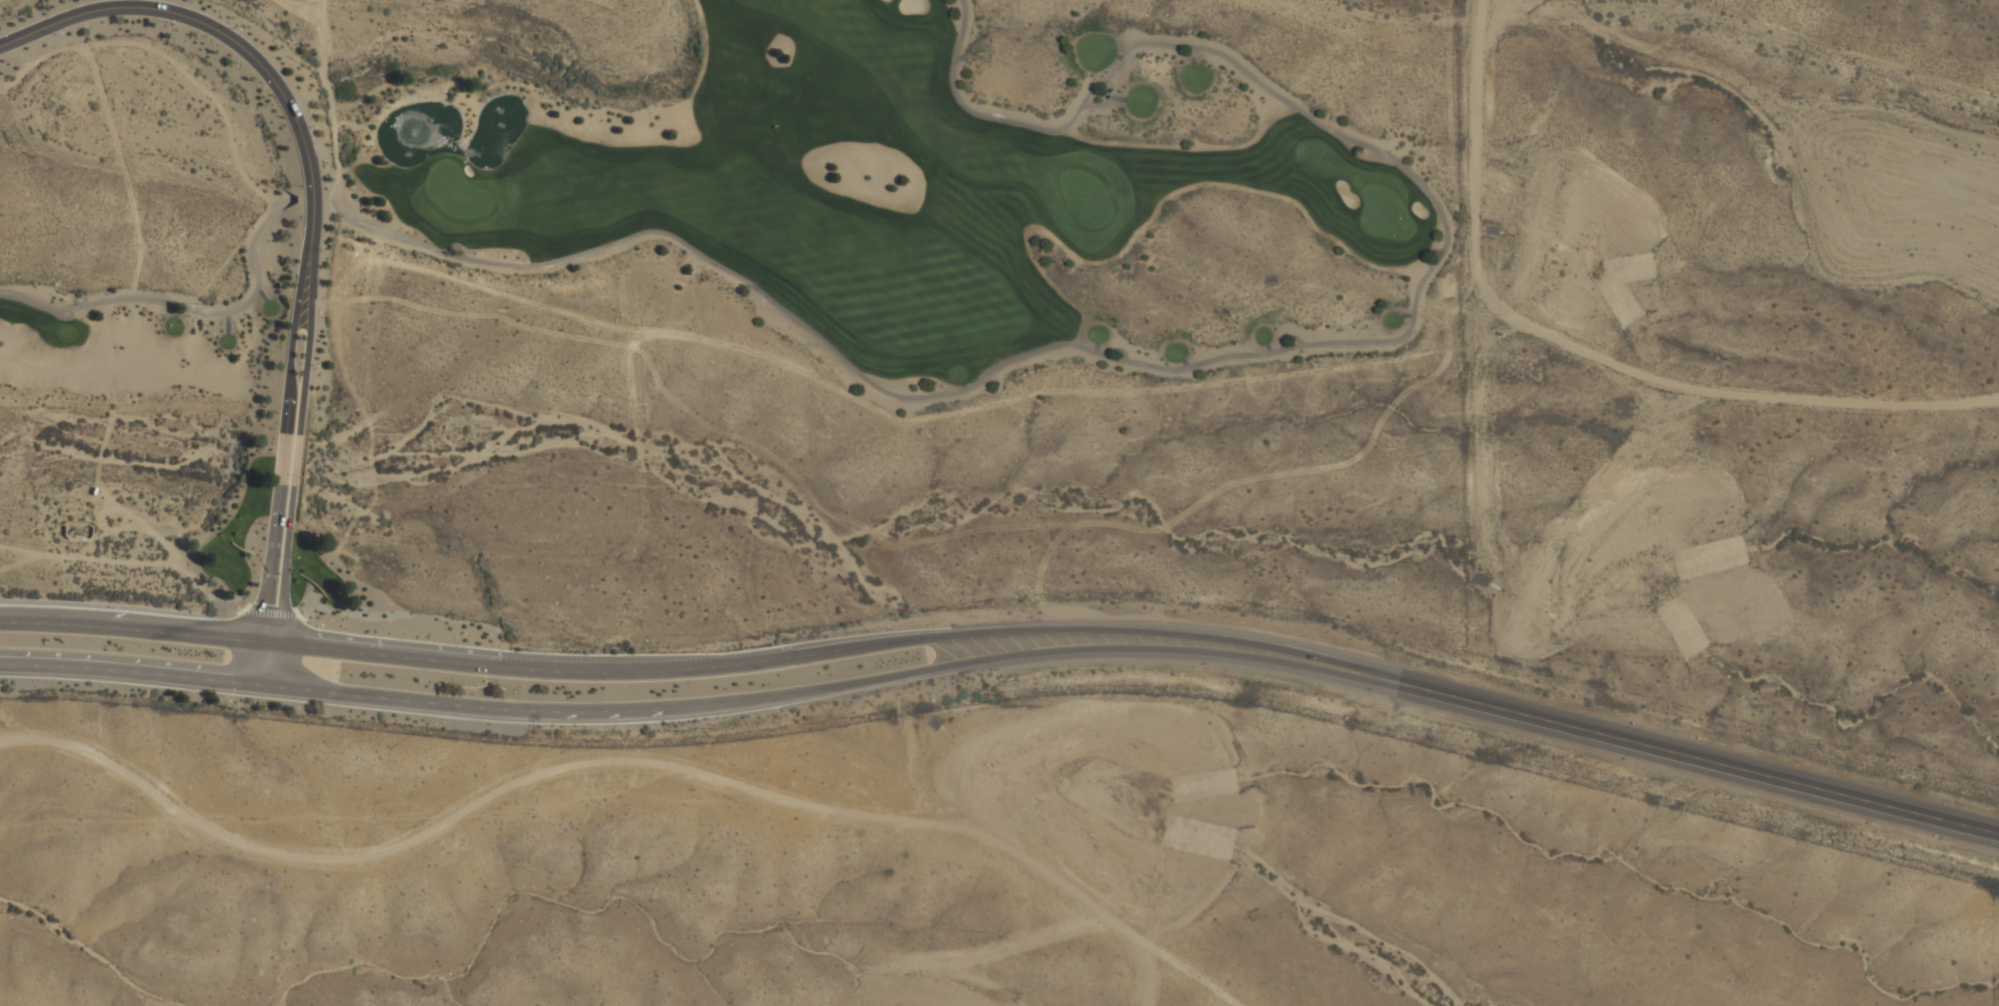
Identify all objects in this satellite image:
road: (202, 27)
road: (327, 97)
park: (819, 208)
road: (184, 303)
road: (1231, 352)
road: (279, 443)
road: (296, 445)
road: (242, 608)
road: (269, 612)
road: (297, 615)
road: (127, 629)
road: (1154, 636)
road: (1170, 655)
road: (598, 674)
road: (131, 675)
road: (621, 714)
road: (1681, 752)
road: (619, 753)

